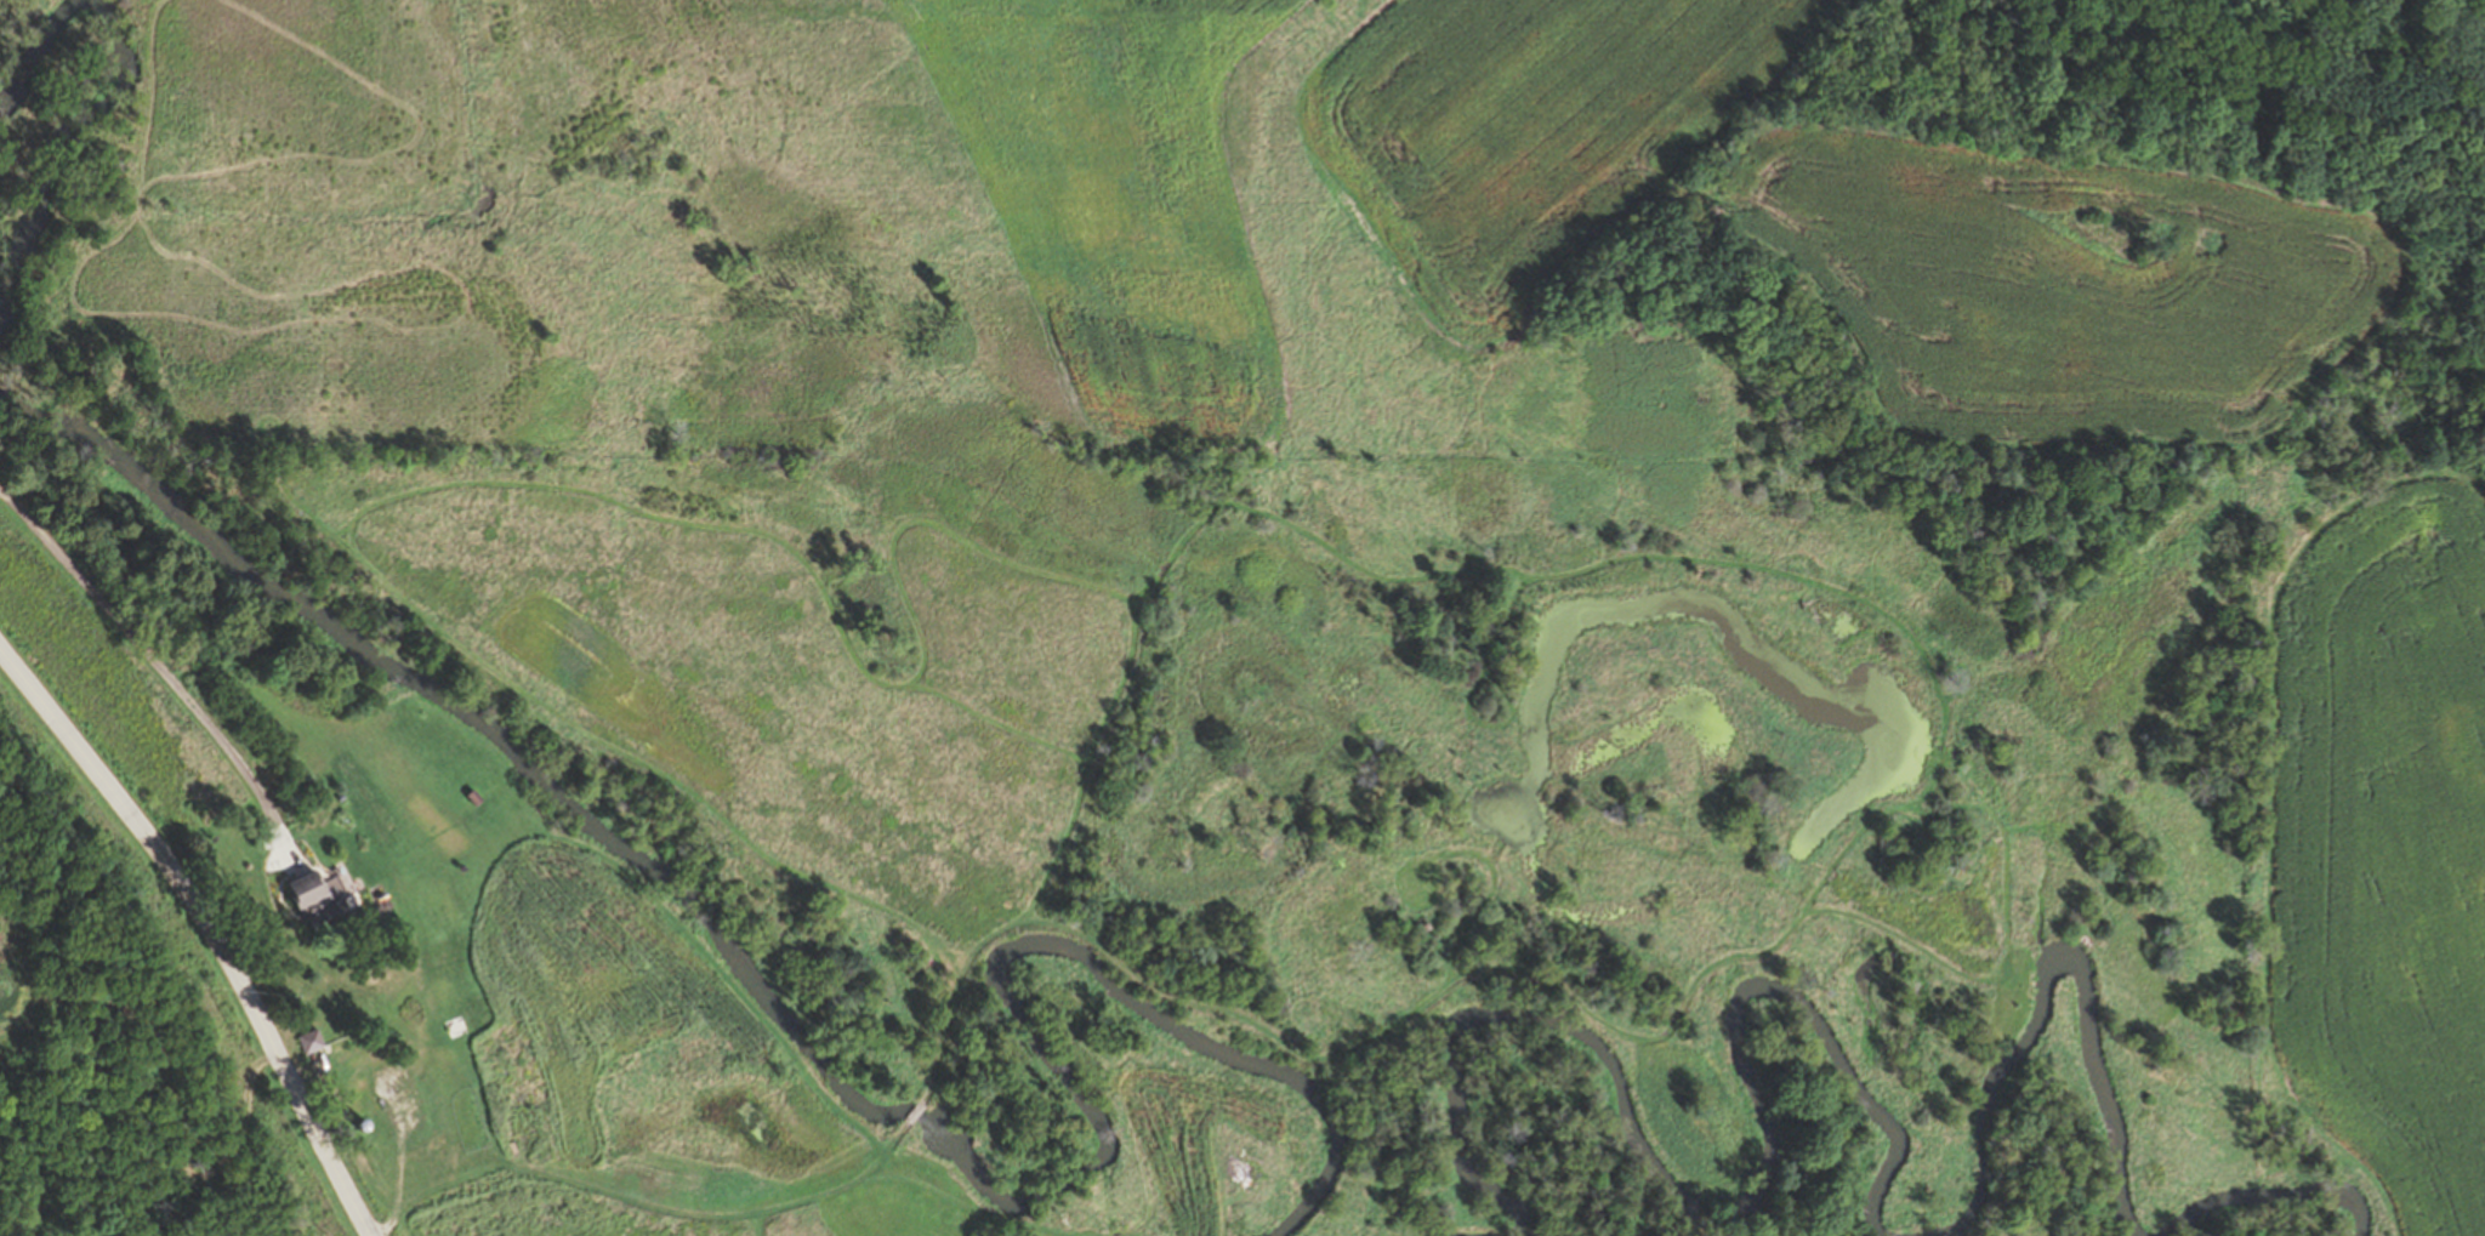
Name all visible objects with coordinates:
road: (161, 672)
river: (540, 890)
building: (320, 901)
road: (206, 932)
building: (314, 1041)
river: (1872, 1144)

